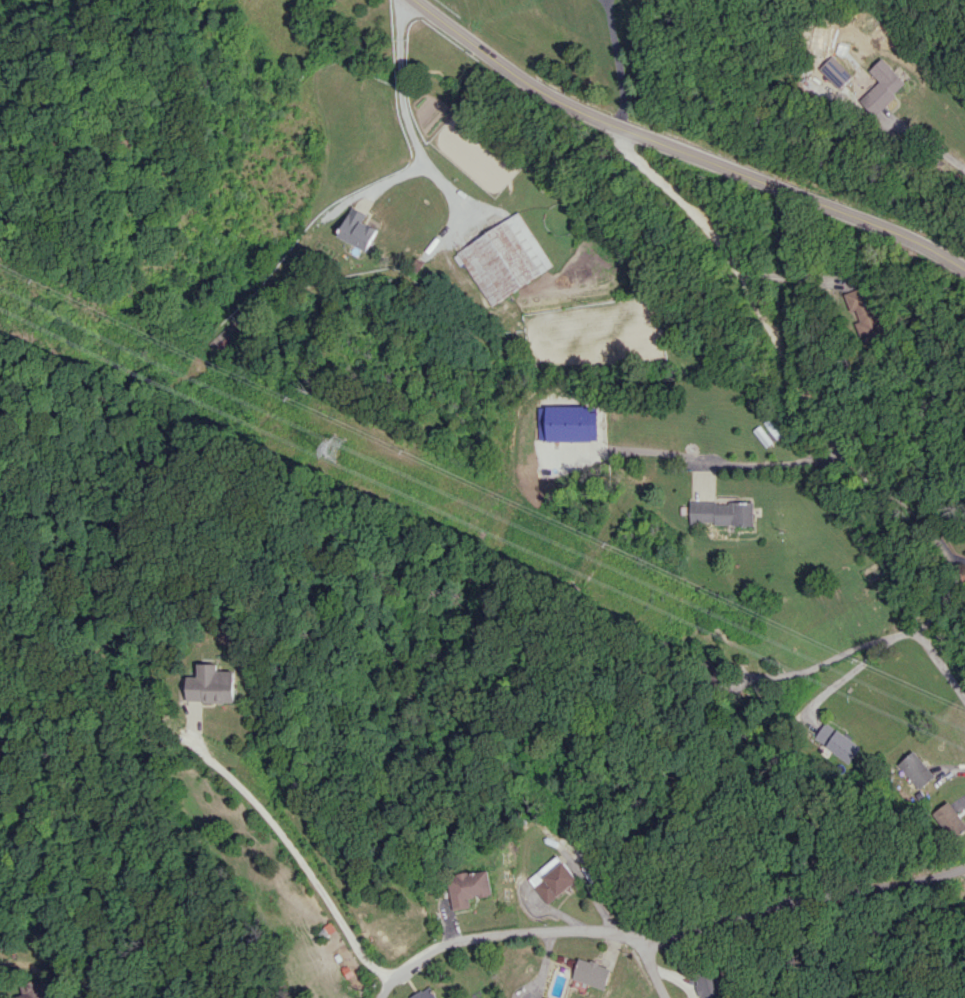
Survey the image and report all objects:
road: (617, 63)
building: (836, 71)
building: (883, 86)
road: (409, 117)
road: (927, 141)
road: (682, 150)
building: (359, 229)
building: (505, 258)
road: (789, 276)
building: (862, 314)
road: (802, 386)
building: (573, 423)
power tower: (338, 445)
road: (775, 463)
building: (722, 512)
road: (947, 665)
building: (214, 684)
road: (721, 729)
building: (838, 742)
building: (917, 770)
building: (951, 819)
road: (292, 849)
building: (556, 879)
building: (469, 887)
road: (666, 934)
road: (654, 969)
building: (592, 973)
building: (710, 985)
building: (425, 994)
building: (36, 997)

